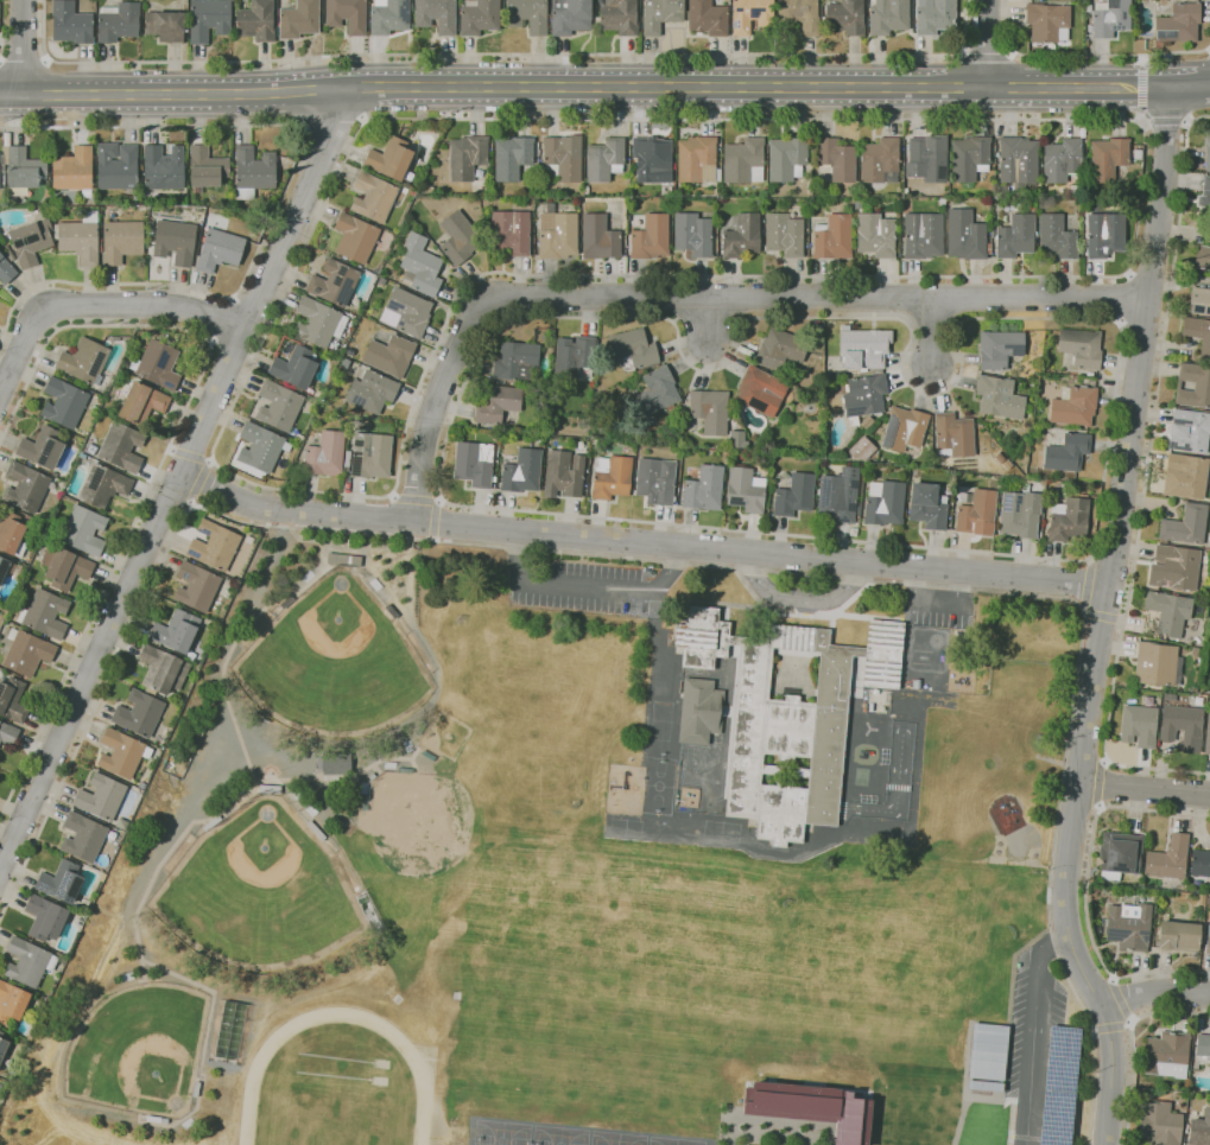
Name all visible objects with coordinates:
building: (1088, 8)
building: (347, 14)
building: (436, 14)
building: (527, 14)
building: (660, 14)
building: (800, 14)
building: (388, 15)
building: (570, 15)
building: (749, 15)
building: (887, 15)
building: (479, 17)
building: (619, 17)
building: (707, 17)
building: (844, 17)
building: (935, 17)
building: (1110, 18)
building: (208, 19)
building: (298, 19)
building: (256, 20)
building: (118, 21)
building: (1047, 21)
building: (70, 23)
building: (1178, 24)
building: (166, 25)
road: (1, 26)
road: (987, 43)
road: (23, 47)
road: (984, 51)
road: (500, 55)
road: (1084, 55)
road: (24, 58)
road: (604, 87)
road: (1166, 123)
building: (1206, 148)
building: (513, 157)
building: (969, 157)
building: (391, 158)
building: (467, 158)
building: (563, 158)
building: (786, 158)
building: (836, 158)
building: (927, 158)
building: (1107, 158)
building: (604, 159)
building: (652, 159)
building: (697, 159)
building: (1062, 159)
building: (880, 160)
building: (1018, 160)
building: (742, 161)
building: (116, 166)
building: (163, 167)
building: (205, 167)
building: (24, 168)
building: (72, 168)
building: (253, 171)
building: (1002, 187)
building: (585, 191)
building: (1204, 195)
building: (373, 197)
road: (280, 199)
building: (942, 201)
building: (857, 203)
building: (511, 231)
building: (150, 233)
building: (692, 234)
building: (784, 234)
building: (1104, 234)
building: (557, 235)
building: (741, 235)
building: (875, 235)
building: (921, 235)
building: (965, 235)
building: (1014, 236)
building: (1056, 236)
building: (80, 237)
building: (355, 237)
building: (458, 237)
building: (598, 237)
building: (650, 237)
building: (832, 237)
building: (121, 240)
building: (30, 241)
building: (175, 241)
building: (218, 249)
building: (1202, 256)
building: (420, 266)
building: (6, 271)
road: (1151, 276)
building: (381, 280)
building: (334, 282)
road: (699, 297)
road: (1123, 299)
building: (1199, 300)
road: (95, 306)
building: (406, 312)
road: (708, 318)
road: (222, 320)
building: (318, 322)
road: (1142, 323)
road: (932, 330)
building: (817, 333)
building: (1198, 335)
building: (863, 348)
building: (999, 348)
building: (1079, 348)
building: (632, 349)
building: (780, 349)
road: (255, 355)
building: (389, 355)
building: (572, 356)
building: (84, 361)
building: (515, 361)
building: (157, 364)
building: (294, 367)
building: (640, 371)
building: (1089, 374)
building: (63, 375)
building: (1193, 384)
building: (372, 390)
building: (760, 390)
building: (655, 392)
building: (863, 396)
building: (999, 397)
building: (140, 401)
building: (63, 402)
building: (495, 402)
building: (278, 406)
building: (1075, 406)
building: (709, 409)
building: (867, 422)
building: (391, 430)
building: (904, 430)
building: (1189, 431)
building: (954, 435)
building: (538, 437)
building: (737, 439)
road: (444, 440)
building: (594, 440)
building: (298, 444)
building: (121, 446)
building: (261, 446)
building: (42, 447)
building: (861, 449)
road: (166, 451)
building: (1066, 452)
road: (190, 454)
building: (325, 454)
building: (370, 454)
building: (82, 456)
building: (999, 457)
building: (347, 458)
building: (873, 460)
building: (819, 463)
building: (474, 464)
building: (521, 471)
building: (563, 473)
building: (1185, 476)
building: (610, 477)
road: (178, 478)
building: (655, 481)
road: (1145, 481)
road: (202, 482)
building: (102, 485)
building: (25, 486)
building: (704, 489)
building: (745, 490)
road: (172, 492)
building: (794, 495)
building: (837, 496)
building: (883, 502)
building: (927, 505)
building: (976, 514)
building: (1019, 514)
road: (436, 520)
building: (1068, 520)
building: (1185, 526)
building: (83, 530)
building: (12, 534)
road: (641, 542)
building: (214, 546)
building: (343, 560)
road: (683, 562)
building: (2, 566)
building: (64, 567)
building: (1174, 568)
road: (588, 584)
road: (1088, 584)
parking lot: (587, 585)
building: (196, 586)
road: (798, 597)
building: (287, 602)
road: (937, 603)
parking lot: (939, 610)
building: (391, 611)
building: (1168, 611)
building: (45, 613)
road: (1103, 619)
building: (1209, 621)
building: (176, 630)
building: (27, 651)
park: (334, 662)
building: (1155, 663)
building: (163, 669)
building: (916, 685)
building: (875, 692)
building: (1168, 696)
building: (12, 700)
building: (870, 707)
building: (699, 711)
building: (138, 713)
building: (786, 715)
building: (1139, 725)
building: (1182, 725)
park: (461, 731)
building: (7, 733)
building: (1208, 734)
building: (196, 736)
building: (122, 753)
road: (844, 757)
building: (334, 763)
building: (405, 770)
building: (372, 776)
park: (558, 784)
park: (658, 785)
road: (1144, 787)
building: (101, 796)
road: (898, 797)
building: (365, 802)
road: (842, 808)
park: (418, 822)
building: (121, 823)
building: (211, 823)
building: (316, 831)
building: (82, 837)
building: (1119, 854)
building: (1168, 858)
building: (1199, 863)
building: (101, 877)
building: (61, 882)
road: (1087, 886)
park: (259, 892)
building: (1208, 899)
building: (45, 918)
building: (1128, 925)
building: (1177, 935)
building: (1208, 937)
building: (27, 961)
road: (1154, 993)
road: (1121, 1000)
building: (12, 1003)
road: (1110, 1026)
road: (1033, 1031)
road: (1130, 1041)
building: (2, 1045)
building: (1203, 1045)
park: (140, 1047)
parking lot: (1035, 1054)
building: (1166, 1055)
building: (987, 1057)
track: (422, 1074)
building: (196, 1088)
building: (809, 1108)
building: (153, 1119)
building: (163, 1120)
building: (1159, 1122)
building: (1199, 1128)
park: (502, 1133)
park: (559, 1136)
park: (616, 1138)
park: (673, 1141)

